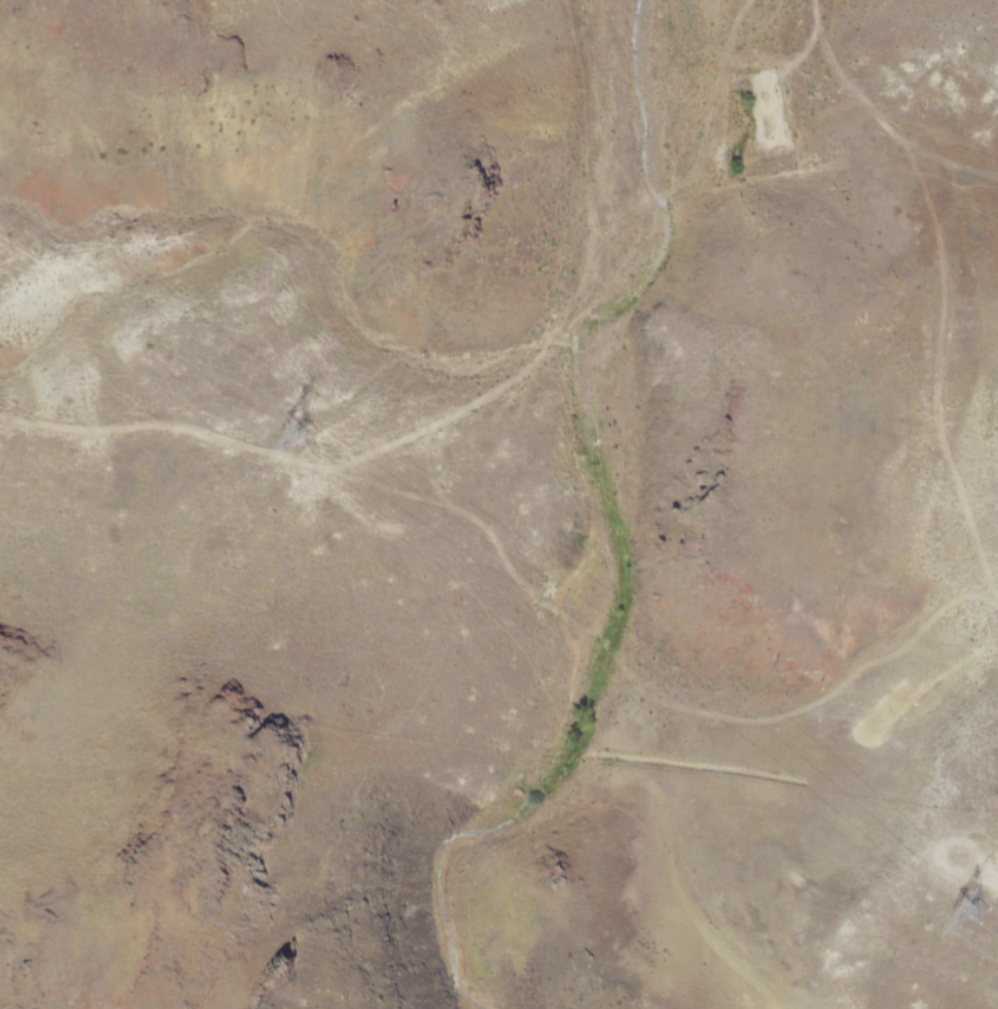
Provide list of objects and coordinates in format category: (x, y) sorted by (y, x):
road: (953, 286)
road: (478, 398)
road: (381, 483)
road: (662, 698)
road: (977, 872)
road: (685, 902)
power tower: (981, 910)

